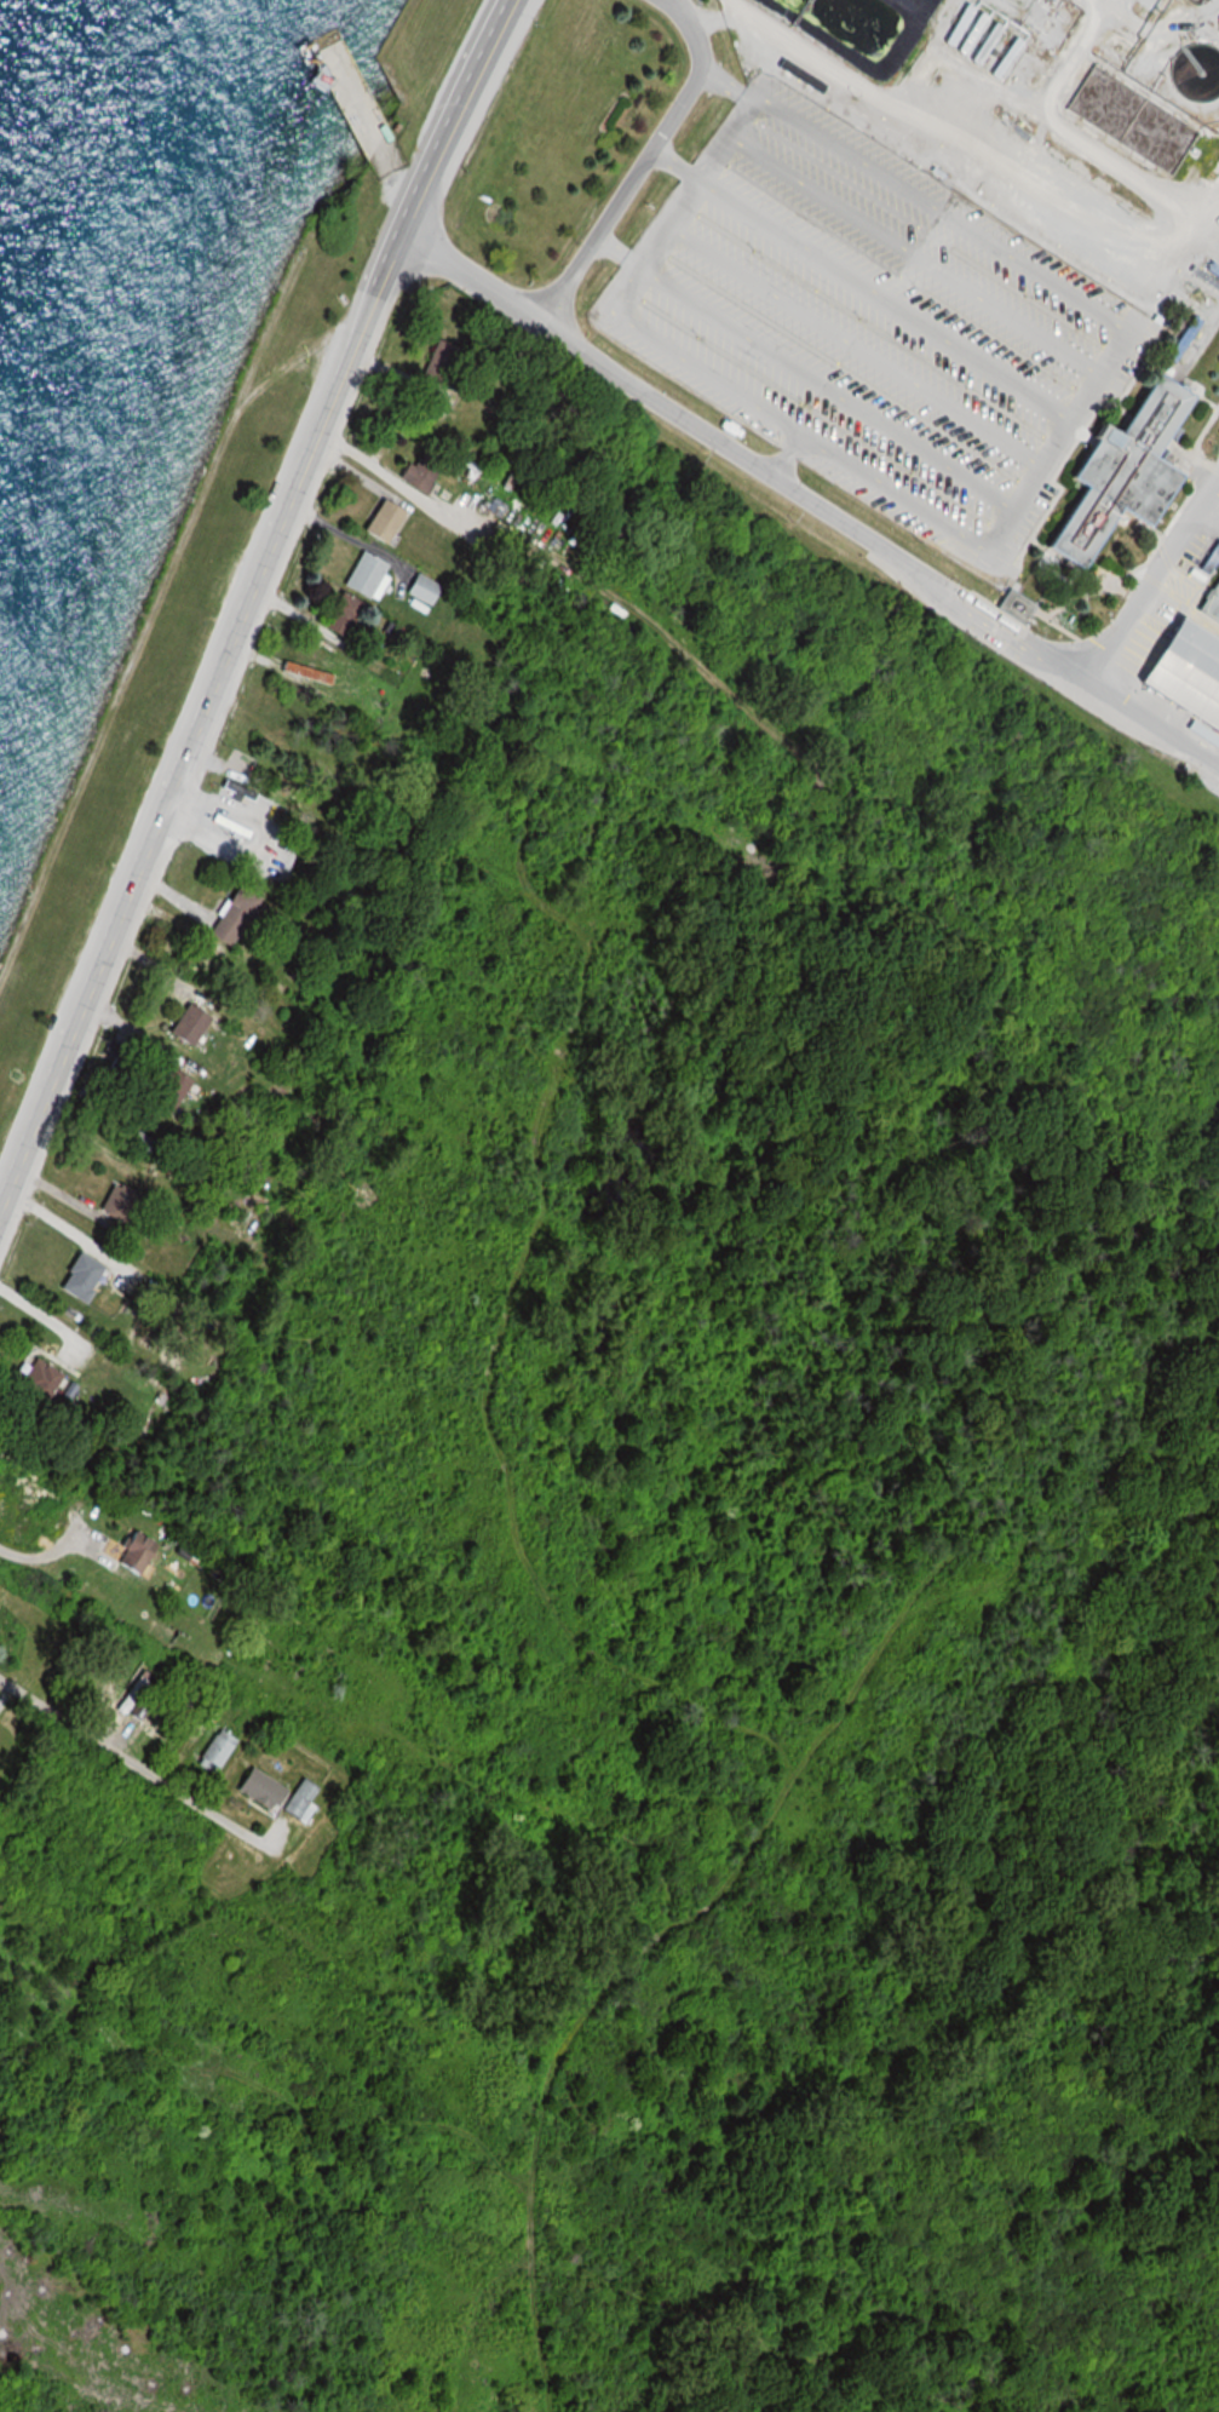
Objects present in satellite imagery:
road: (461, 119)
road: (642, 160)
road: (395, 249)
road: (472, 280)
parking lot: (870, 322)
building: (1115, 472)
road: (776, 476)
road: (1149, 570)
road: (1043, 653)
road: (192, 737)

